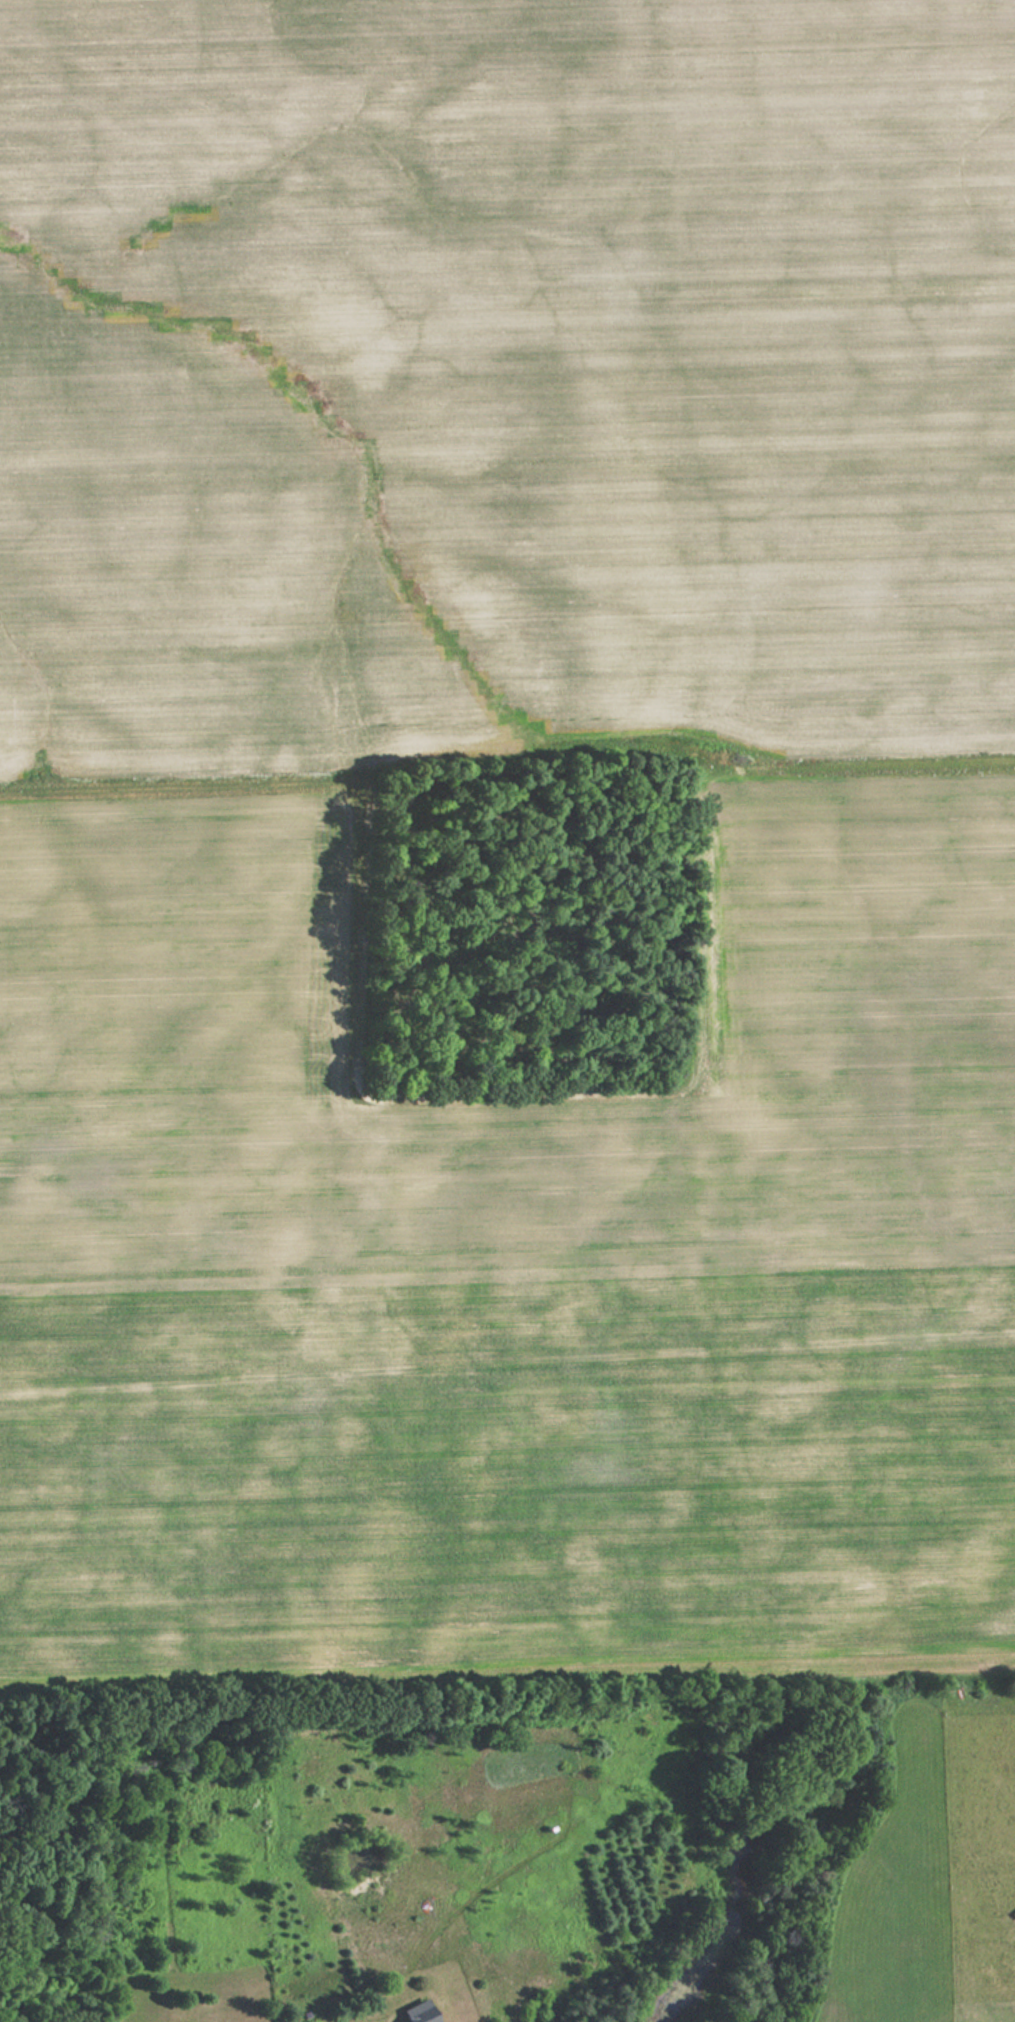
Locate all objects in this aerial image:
building: (420, 2012)

